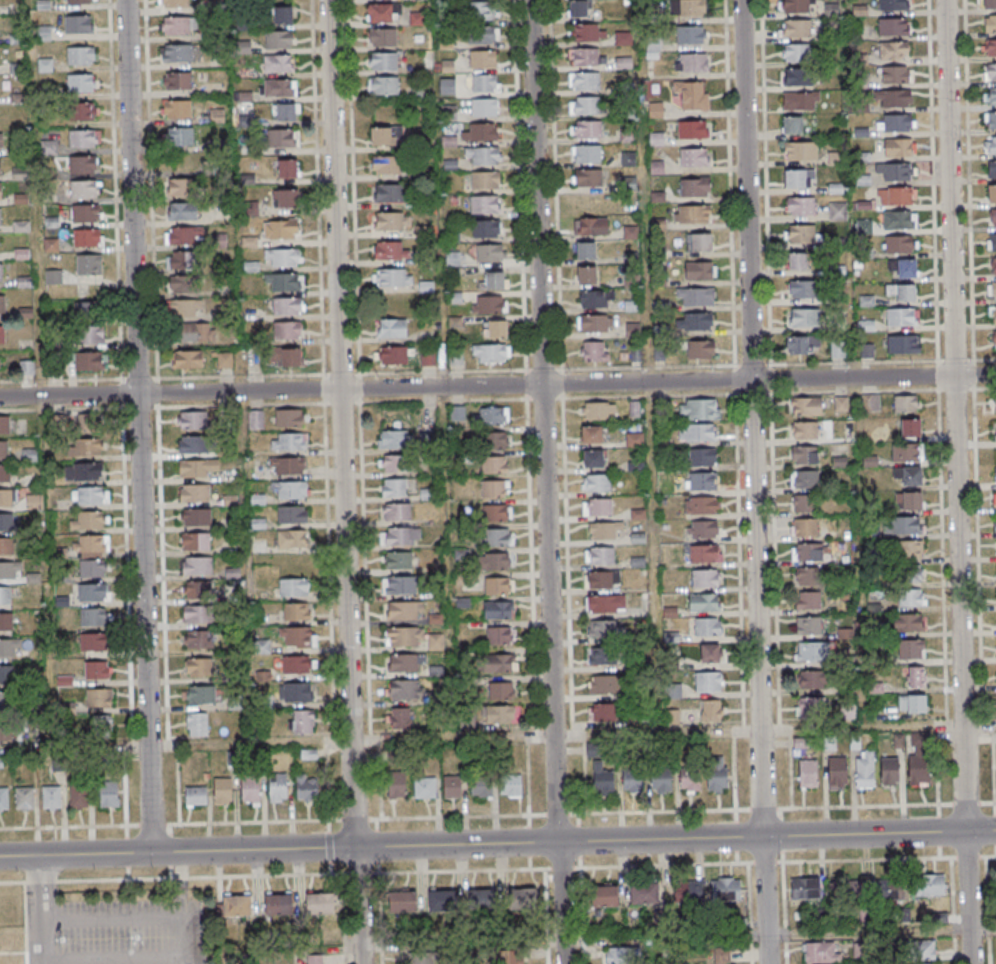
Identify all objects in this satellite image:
building: (77, 2)
building: (174, 3)
building: (892, 4)
building: (988, 4)
building: (795, 6)
building: (691, 8)
building: (579, 9)
building: (832, 10)
building: (380, 12)
building: (477, 12)
building: (283, 14)
building: (990, 23)
building: (78, 24)
building: (178, 26)
building: (892, 26)
building: (797, 29)
building: (589, 33)
building: (690, 35)
building: (481, 36)
building: (383, 37)
building: (279, 39)
building: (624, 39)
building: (988, 47)
building: (652, 49)
building: (893, 50)
building: (177, 52)
building: (796, 52)
building: (80, 56)
building: (586, 57)
building: (483, 60)
building: (382, 61)
building: (278, 63)
building: (691, 63)
building: (990, 72)
building: (894, 75)
building: (796, 76)
building: (177, 81)
building: (584, 82)
building: (81, 83)
building: (485, 84)
building: (383, 85)
building: (447, 86)
building: (278, 87)
building: (990, 96)
building: (692, 97)
building: (893, 98)
building: (801, 100)
building: (585, 107)
building: (488, 108)
building: (176, 109)
building: (84, 111)
building: (285, 112)
building: (990, 120)
building: (895, 122)
building: (792, 125)
building: (693, 130)
building: (587, 131)
building: (480, 133)
building: (181, 136)
building: (283, 137)
building: (84, 138)
building: (656, 139)
building: (449, 141)
building: (1, 142)
building: (990, 144)
building: (898, 147)
building: (801, 150)
building: (587, 154)
building: (482, 156)
building: (694, 158)
building: (84, 164)
building: (386, 164)
building: (450, 164)
building: (0, 167)
building: (287, 168)
building: (991, 169)
building: (895, 171)
building: (588, 178)
building: (799, 178)
building: (485, 181)
building: (694, 187)
building: (181, 188)
building: (85, 190)
building: (0, 191)
building: (389, 193)
building: (990, 193)
building: (896, 195)
building: (285, 198)
building: (485, 205)
building: (800, 206)
building: (838, 211)
building: (182, 213)
building: (693, 214)
building: (86, 215)
building: (0, 217)
building: (992, 217)
building: (899, 219)
building: (392, 221)
building: (864, 226)
building: (591, 228)
building: (486, 229)
building: (281, 230)
building: (803, 234)
building: (184, 236)
building: (87, 239)
building: (699, 242)
building: (991, 242)
building: (900, 244)
building: (390, 251)
building: (585, 251)
building: (491, 253)
building: (282, 258)
building: (797, 260)
building: (182, 262)
building: (992, 265)
building: (88, 266)
building: (902, 268)
building: (700, 270)
building: (1, 272)
building: (584, 276)
building: (392, 278)
building: (495, 280)
building: (283, 282)
building: (182, 285)
building: (802, 289)
building: (991, 290)
building: (902, 291)
building: (695, 296)
building: (595, 299)
building: (2, 304)
building: (489, 305)
building: (287, 306)
building: (186, 309)
building: (89, 311)
building: (992, 314)
building: (901, 316)
building: (804, 317)
building: (696, 321)
building: (595, 323)
building: (392, 329)
building: (495, 329)
building: (287, 330)
building: (197, 333)
building: (2, 334)
building: (91, 336)
building: (993, 340)
building: (903, 343)
building: (802, 345)
building: (700, 349)
building: (837, 349)
building: (866, 350)
building: (594, 351)
building: (491, 353)
building: (394, 356)
building: (289, 357)
building: (427, 358)
building: (456, 358)
building: (187, 359)
building: (225, 359)
building: (88, 362)
building: (26, 368)
road: (497, 385)
building: (995, 402)
building: (871, 403)
building: (906, 403)
building: (840, 404)
building: (806, 406)
building: (699, 410)
building: (599, 411)
building: (458, 414)
building: (492, 416)
building: (289, 418)
building: (192, 420)
building: (88, 423)
building: (4, 424)
road: (138, 426)
building: (910, 427)
building: (805, 430)
building: (995, 431)
building: (697, 433)
building: (591, 435)
building: (392, 440)
building: (495, 440)
building: (634, 440)
building: (289, 442)
building: (194, 444)
building: (84, 447)
building: (4, 449)
building: (906, 452)
building: (804, 455)
building: (702, 457)
building: (594, 460)
building: (394, 464)
building: (494, 464)
building: (287, 466)
building: (196, 468)
building: (83, 471)
building: (4, 473)
building: (995, 474)
building: (907, 476)
building: (804, 479)
building: (702, 481)
road: (343, 482)
road: (544, 482)
road: (753, 482)
road: (956, 482)
building: (597, 484)
building: (394, 488)
building: (495, 489)
building: (289, 491)
building: (194, 493)
building: (90, 495)
building: (6, 497)
building: (994, 499)
building: (910, 501)
building: (34, 502)
building: (804, 503)
building: (700, 505)
building: (600, 508)
building: (396, 512)
building: (496, 513)
building: (291, 515)
building: (195, 517)
building: (88, 520)
building: (9, 521)
building: (908, 524)
building: (995, 527)
building: (703, 529)
building: (805, 529)
building: (604, 531)
building: (403, 536)
building: (495, 537)
building: (292, 539)
building: (195, 541)
building: (6, 546)
building: (910, 548)
building: (705, 554)
building: (804, 554)
building: (92, 556)
building: (600, 556)
building: (398, 560)
building: (496, 561)
building: (197, 566)
building: (9, 570)
building: (995, 572)
building: (912, 573)
building: (806, 577)
building: (705, 579)
building: (602, 580)
building: (403, 585)
building: (499, 585)
building: (293, 587)
building: (197, 591)
building: (91, 592)
building: (7, 595)
building: (912, 597)
building: (808, 601)
building: (606, 604)
building: (703, 604)
building: (498, 610)
building: (404, 611)
building: (296, 612)
building: (198, 615)
building: (93, 617)
building: (6, 621)
building: (995, 621)
building: (907, 622)
building: (809, 626)
building: (708, 628)
building: (601, 630)
building: (845, 633)
building: (499, 635)
building: (296, 637)
building: (404, 638)
building: (201, 640)
building: (93, 642)
building: (6, 648)
building: (915, 649)
building: (812, 652)
building: (709, 655)
building: (601, 657)
building: (404, 663)
building: (501, 663)
building: (296, 665)
building: (200, 668)
building: (96, 670)
building: (6, 674)
building: (914, 678)
building: (811, 680)
building: (707, 683)
building: (603, 685)
building: (405, 689)
building: (501, 691)
building: (295, 693)
building: (201, 696)
building: (98, 699)
building: (6, 700)
building: (912, 705)
building: (811, 708)
building: (711, 711)
building: (604, 713)
building: (498, 715)
building: (399, 718)
building: (672, 718)
building: (302, 721)
building: (197, 726)
building: (95, 729)
building: (5, 730)
building: (865, 769)
building: (918, 770)
building: (889, 771)
building: (836, 772)
building: (807, 774)
building: (716, 775)
building: (631, 778)
building: (602, 779)
building: (661, 779)
building: (690, 780)
building: (511, 785)
building: (396, 786)
building: (425, 787)
building: (452, 787)
building: (278, 788)
building: (306, 788)
building: (482, 788)
building: (250, 790)
building: (222, 791)
building: (108, 793)
building: (195, 795)
building: (79, 796)
building: (51, 797)
building: (24, 798)
building: (4, 799)
road: (498, 816)
road: (497, 843)
road: (497, 869)
building: (929, 884)
road: (41, 886)
building: (726, 888)
building: (805, 888)
building: (890, 889)
building: (688, 891)
building: (839, 891)
building: (643, 892)
building: (604, 895)
building: (484, 900)
building: (442, 901)
building: (523, 901)
building: (401, 902)
building: (278, 905)
building: (320, 905)
building: (237, 907)
road: (136, 916)
road: (881, 931)
road: (41, 941)
road: (868, 948)
building: (924, 950)
building: (821, 953)
building: (511, 956)
building: (621, 956)
building: (722, 957)
road: (114, 958)
building: (422, 959)
building: (313, 960)

